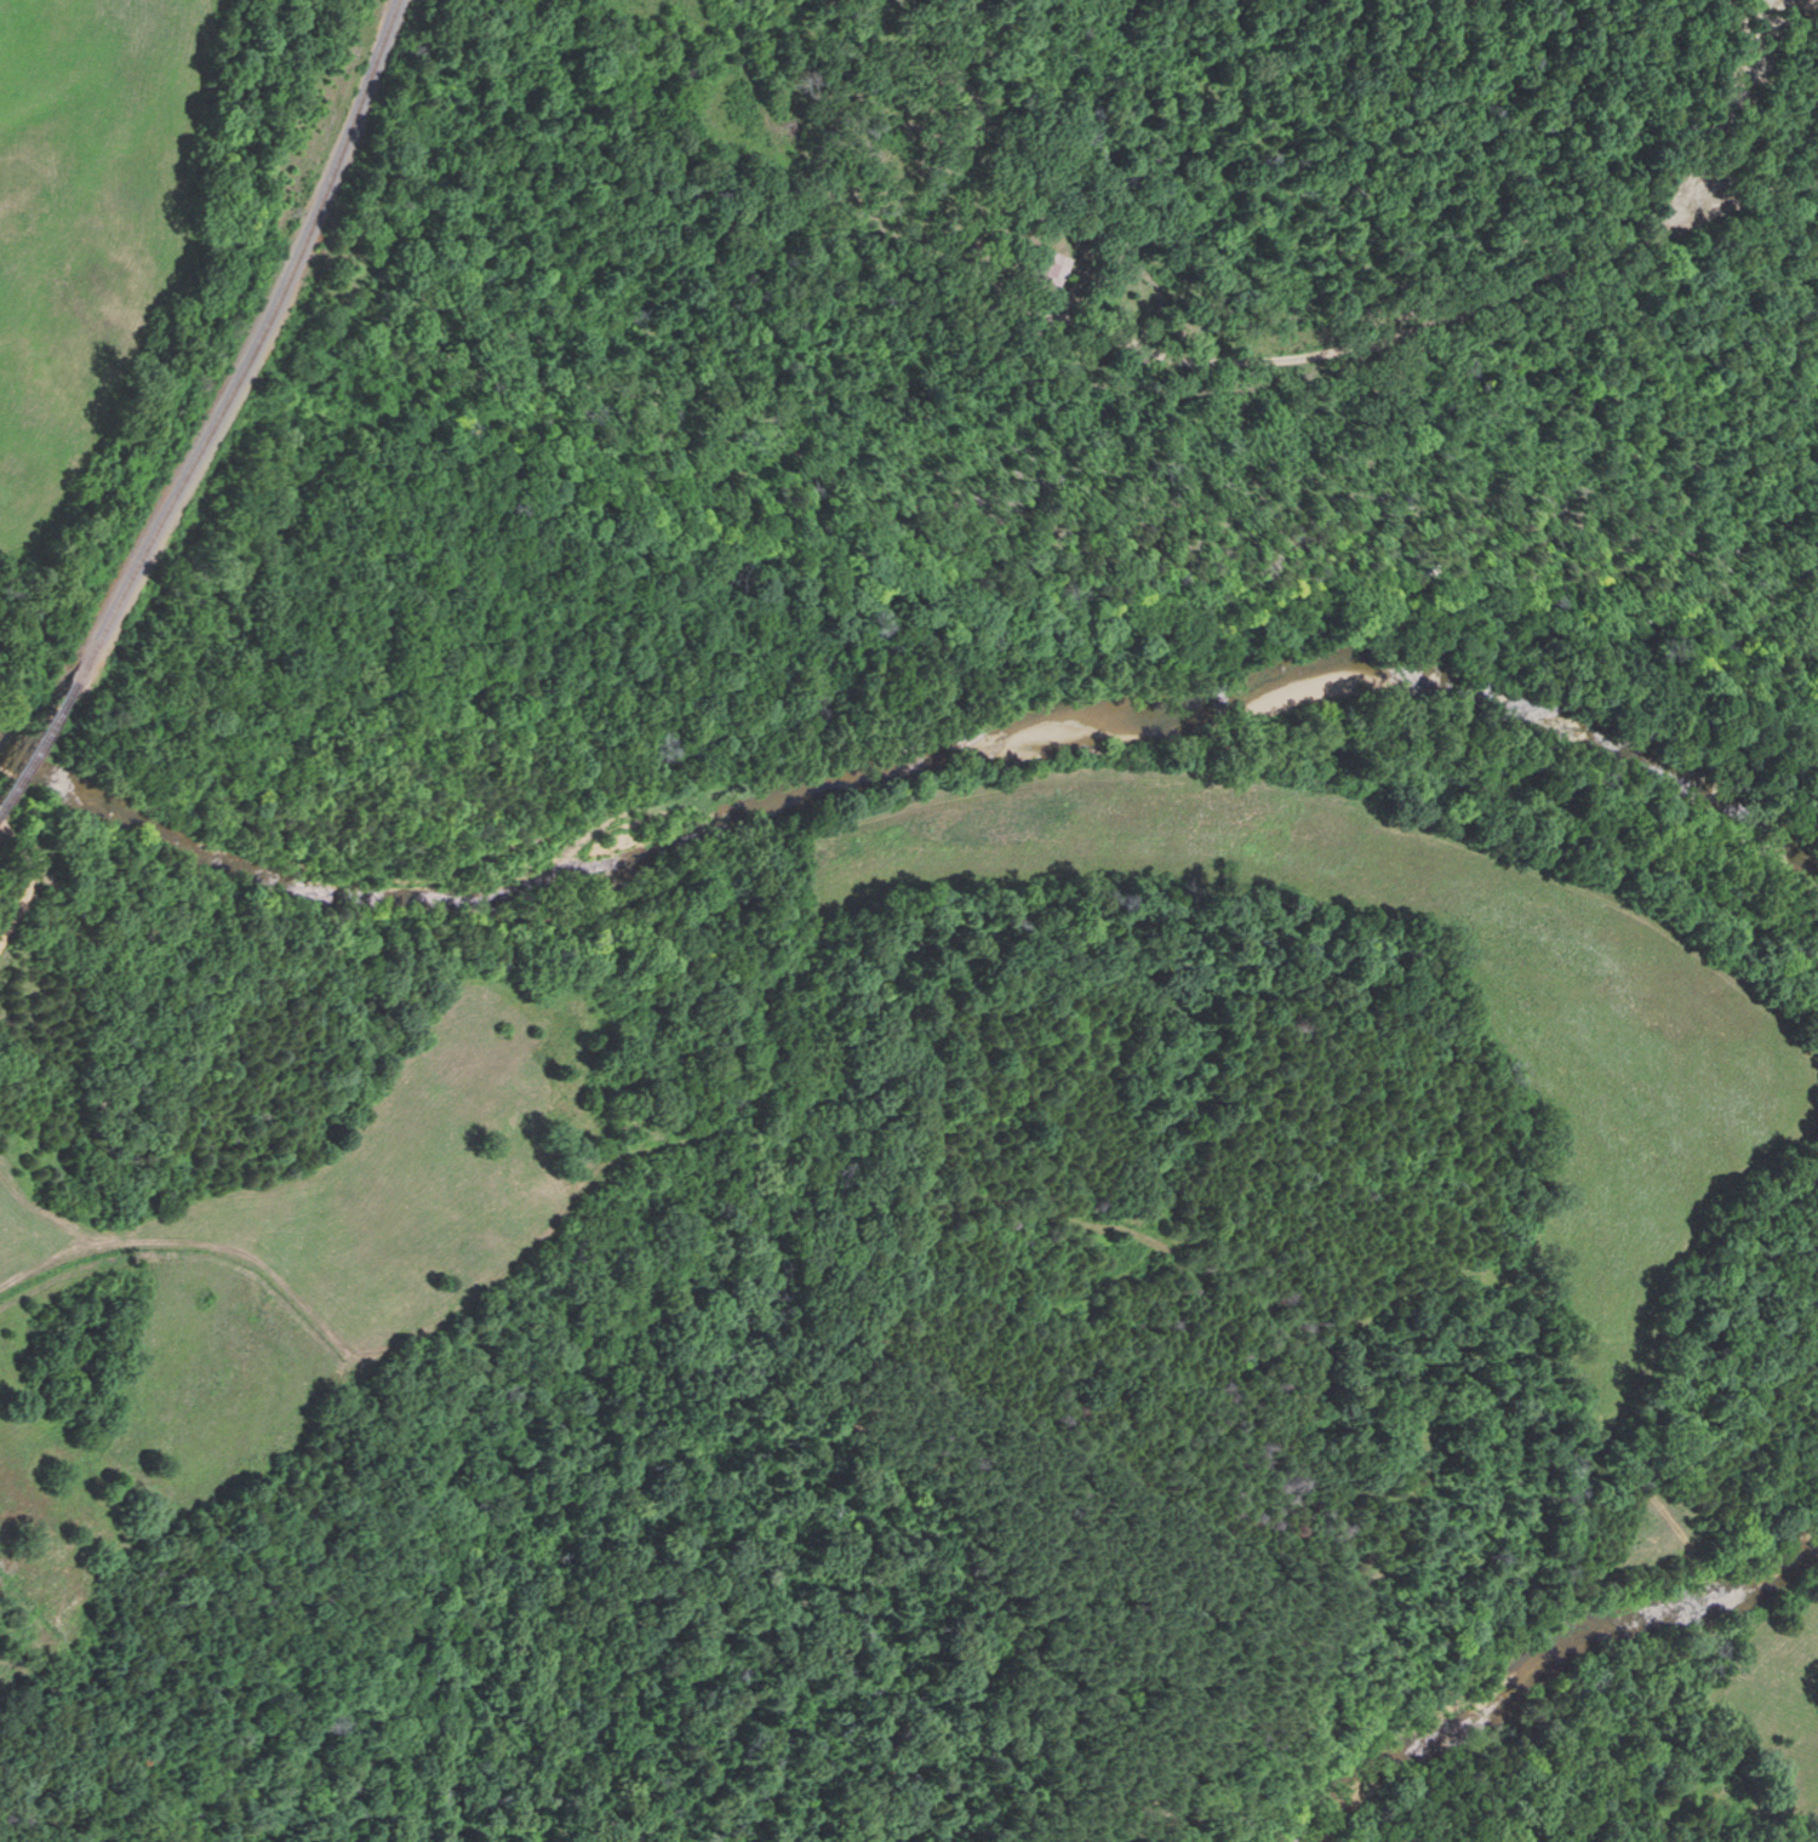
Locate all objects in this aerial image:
road: (1715, 90)
building: (1035, 269)
railway: (251, 342)
railway: (39, 737)
road: (25, 881)

